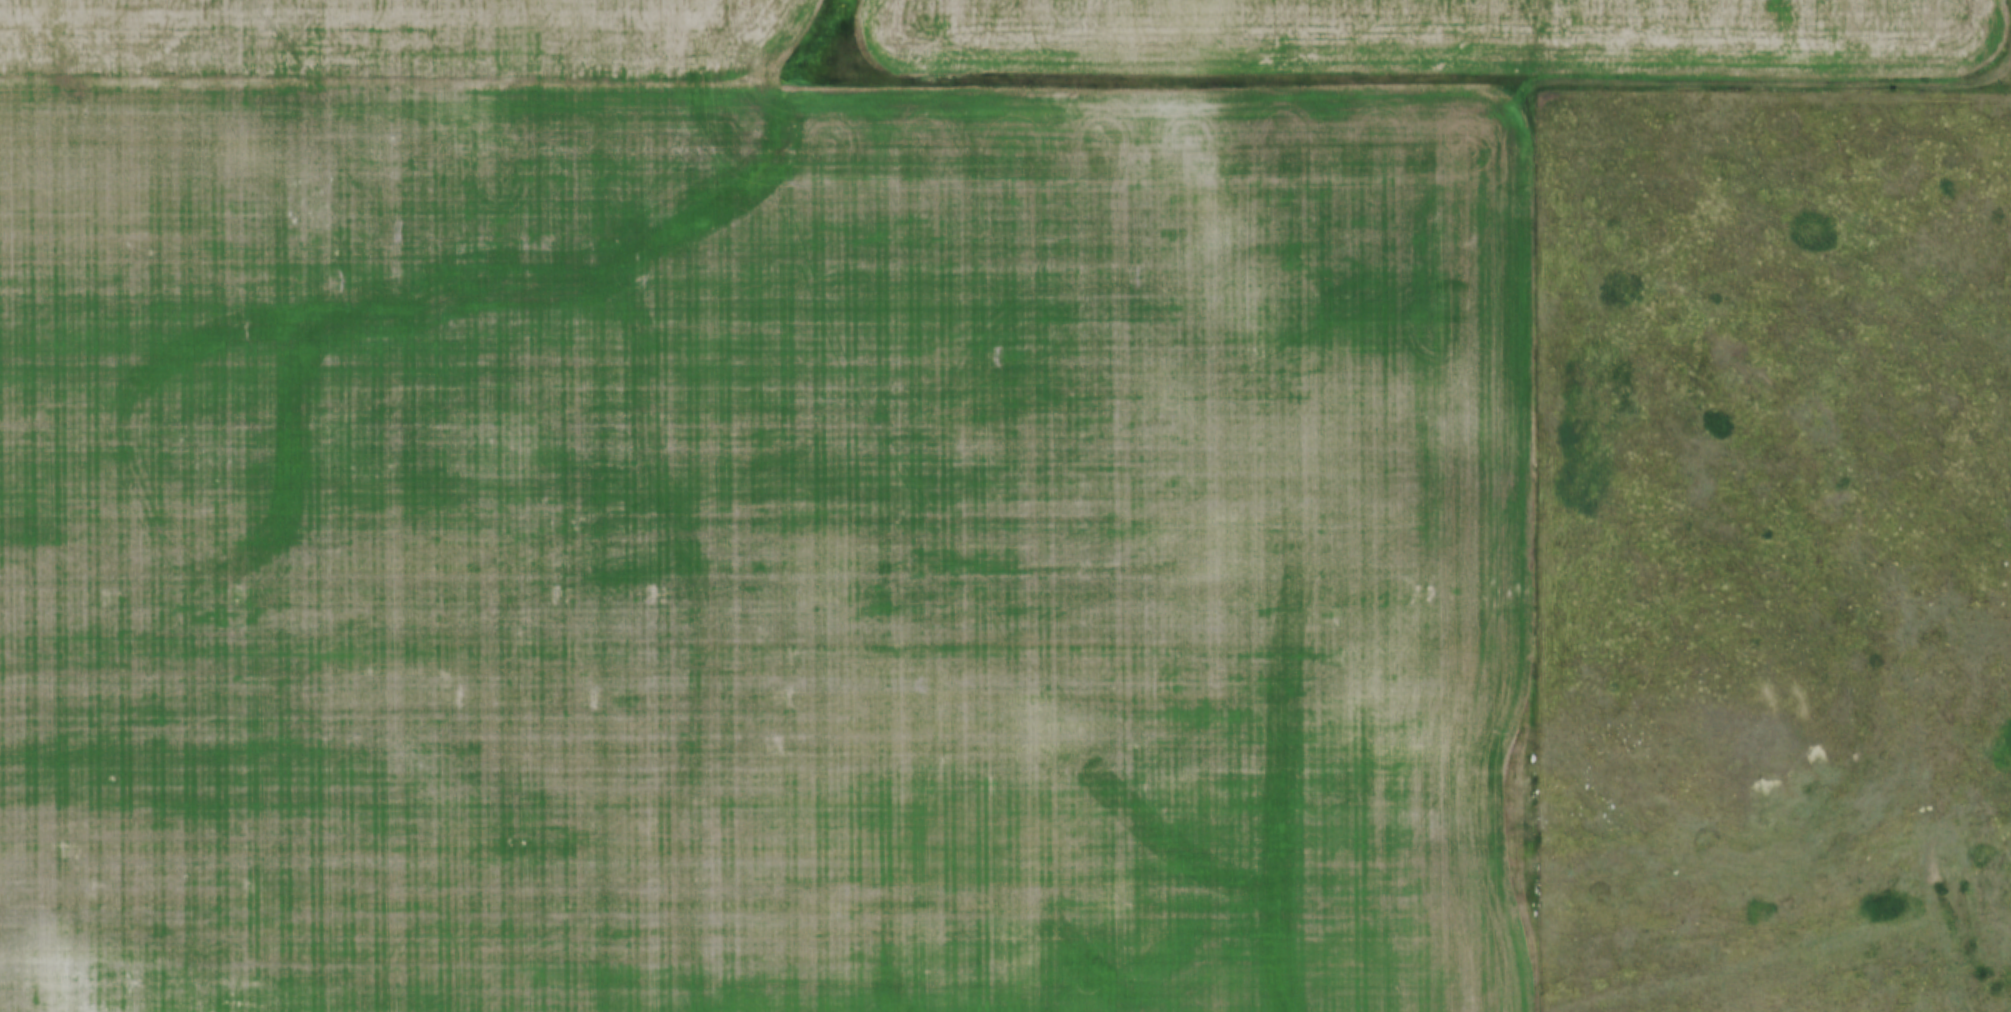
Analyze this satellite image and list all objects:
road: (1005, 70)

